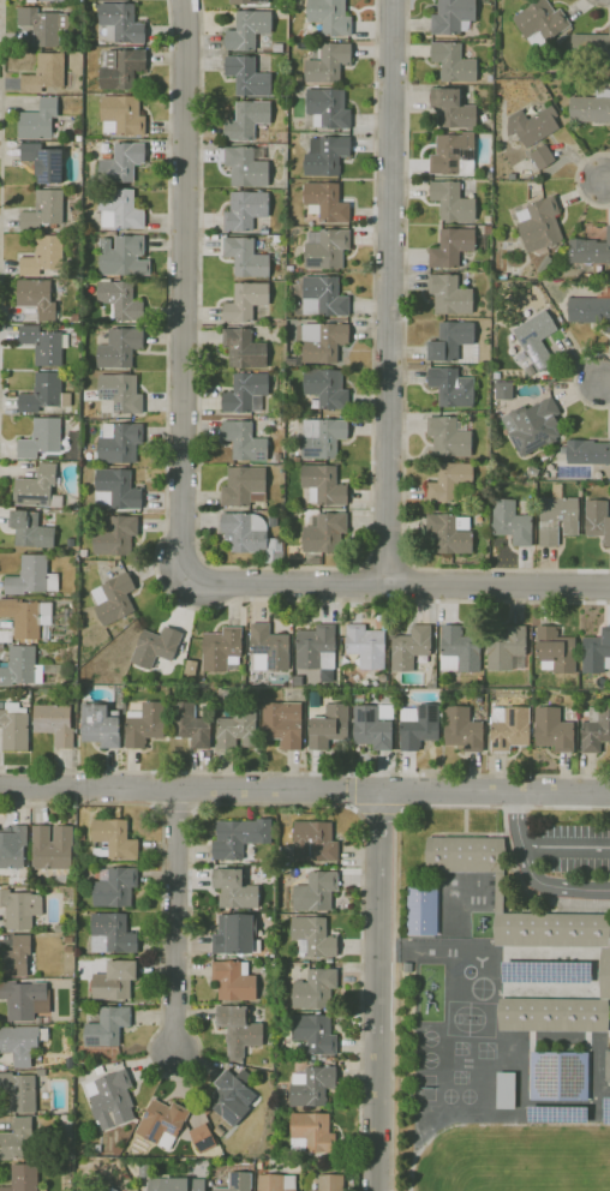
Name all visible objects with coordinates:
building: (52, 0)
building: (247, 1)
road: (599, 5)
road: (1, 12)
building: (453, 16)
building: (330, 17)
building: (121, 23)
building: (540, 23)
building: (44, 25)
building: (249, 29)
building: (591, 47)
building: (328, 62)
building: (454, 62)
building: (120, 68)
building: (46, 73)
building: (249, 76)
building: (490, 78)
building: (295, 82)
building: (554, 88)
building: (293, 90)
building: (591, 107)
building: (328, 108)
building: (453, 108)
building: (124, 114)
building: (38, 120)
building: (247, 120)
building: (536, 133)
building: (79, 138)
building: (454, 155)
building: (325, 156)
building: (44, 161)
building: (122, 163)
building: (247, 166)
building: (490, 174)
building: (512, 176)
road: (576, 180)
road: (606, 180)
building: (325, 202)
building: (451, 202)
road: (1, 207)
building: (120, 209)
building: (44, 210)
building: (245, 210)
building: (488, 219)
building: (540, 225)
building: (489, 229)
road: (0, 245)
building: (455, 246)
building: (327, 249)
building: (591, 253)
building: (43, 255)
building: (122, 257)
building: (246, 257)
building: (544, 263)
building: (289, 269)
road: (184, 288)
road: (0, 291)
road: (390, 292)
building: (450, 294)
building: (323, 297)
building: (38, 299)
building: (120, 300)
building: (246, 301)
building: (591, 309)
building: (74, 317)
building: (281, 322)
building: (281, 327)
building: (537, 339)
building: (451, 340)
building: (322, 341)
building: (43, 345)
building: (120, 347)
building: (245, 349)
building: (294, 361)
building: (496, 376)
road: (574, 381)
road: (605, 382)
road: (406, 383)
building: (453, 387)
building: (327, 388)
building: (503, 390)
building: (121, 393)
building: (246, 393)
building: (44, 394)
building: (72, 423)
building: (532, 425)
building: (42, 438)
building: (322, 438)
building: (449, 438)
building: (244, 441)
building: (120, 442)
building: (586, 451)
building: (544, 456)
building: (277, 457)
building: (297, 459)
building: (533, 472)
building: (449, 481)
building: (324, 485)
building: (36, 486)
building: (244, 486)
building: (118, 491)
building: (557, 516)
building: (598, 519)
building: (273, 521)
road: (166, 522)
building: (512, 522)
building: (31, 531)
building: (324, 533)
building: (449, 534)
building: (115, 535)
building: (251, 535)
building: (71, 543)
building: (83, 552)
building: (316, 561)
road: (388, 563)
road: (285, 568)
building: (32, 576)
road: (351, 585)
road: (396, 585)
road: (423, 585)
building: (114, 599)
building: (24, 618)
building: (366, 645)
building: (156, 647)
building: (411, 647)
building: (460, 647)
building: (506, 647)
building: (269, 648)
building: (222, 650)
building: (318, 650)
building: (556, 651)
building: (597, 652)
building: (25, 668)
building: (191, 668)
building: (186, 680)
building: (298, 681)
building: (197, 683)
building: (190, 693)
building: (225, 693)
building: (358, 698)
building: (55, 724)
building: (101, 724)
building: (283, 724)
building: (145, 725)
building: (191, 725)
building: (418, 725)
building: (329, 726)
building: (373, 726)
building: (14, 728)
building: (509, 728)
building: (237, 729)
building: (462, 729)
building: (596, 729)
building: (552, 730)
road: (304, 772)
road: (349, 789)
road: (304, 790)
road: (377, 808)
road: (465, 822)
building: (239, 837)
building: (113, 839)
building: (315, 843)
road: (566, 844)
building: (52, 846)
building: (13, 848)
road: (531, 873)
building: (79, 874)
building: (115, 886)
road: (527, 887)
building: (234, 888)
building: (315, 892)
road: (394, 894)
road: (191, 903)
track: (453, 904)
building: (20, 908)
building: (423, 909)
road: (175, 920)
building: (112, 934)
building: (235, 934)
building: (313, 938)
building: (531, 939)
building: (67, 947)
building: (16, 958)
building: (546, 971)
building: (115, 980)
building: (234, 981)
building: (315, 988)
road: (378, 990)
building: (23, 998)
park: (466, 1018)
building: (38, 1021)
building: (108, 1027)
building: (239, 1031)
building: (315, 1033)
building: (22, 1043)
building: (70, 1063)
park: (467, 1065)
building: (608, 1066)
building: (100, 1070)
building: (41, 1072)
building: (558, 1076)
building: (312, 1085)
park: (425, 1088)
building: (281, 1090)
building: (504, 1090)
building: (19, 1091)
building: (232, 1096)
building: (112, 1099)
building: (606, 1109)
building: (557, 1114)
building: (162, 1123)
building: (220, 1131)
building: (312, 1132)
building: (202, 1137)
building: (17, 1141)
building: (98, 1147)
building: (127, 1161)
building: (259, 1165)
building: (145, 1168)
building: (23, 1178)
building: (238, 1183)
building: (277, 1183)
building: (327, 1183)
building: (177, 1184)
building: (108, 1189)
building: (112, 1189)

